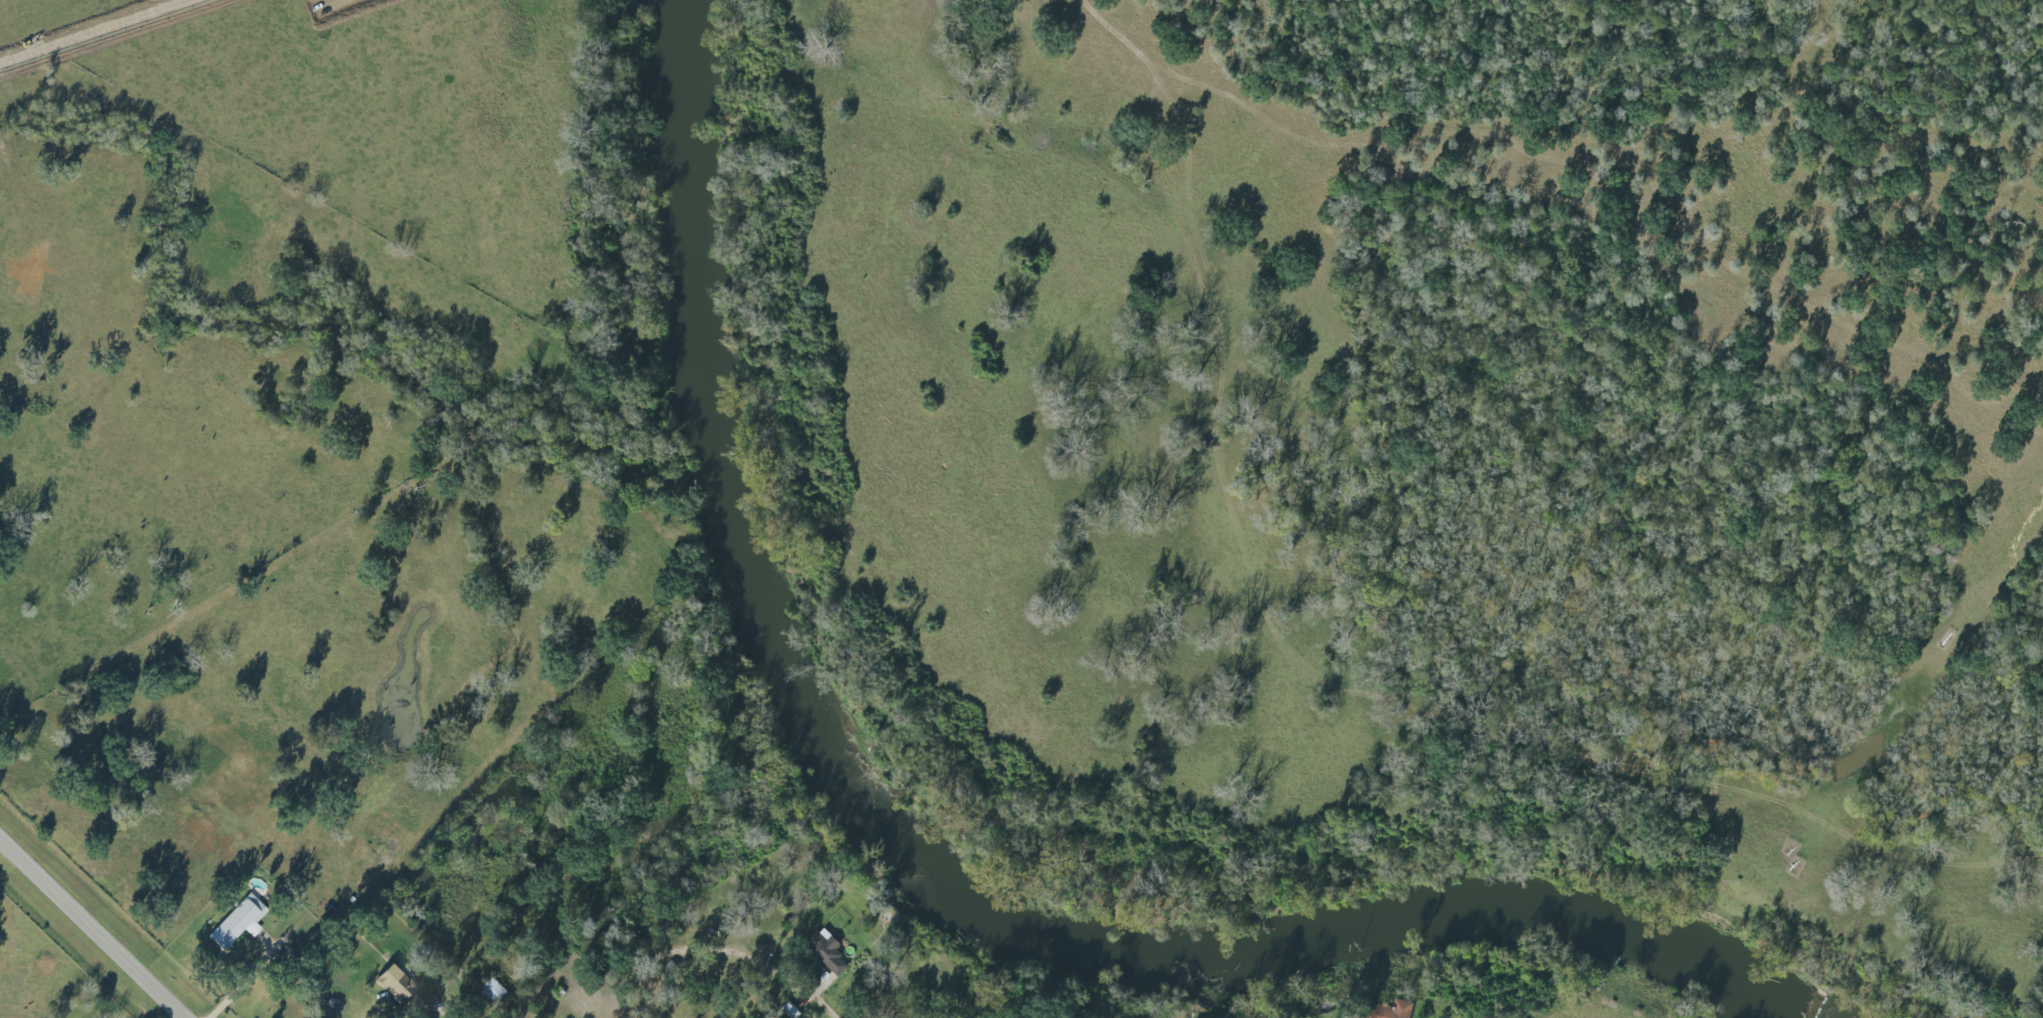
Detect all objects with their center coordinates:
building: (235, 922)
road: (91, 927)
building: (830, 956)
road: (812, 994)
building: (1402, 1009)

